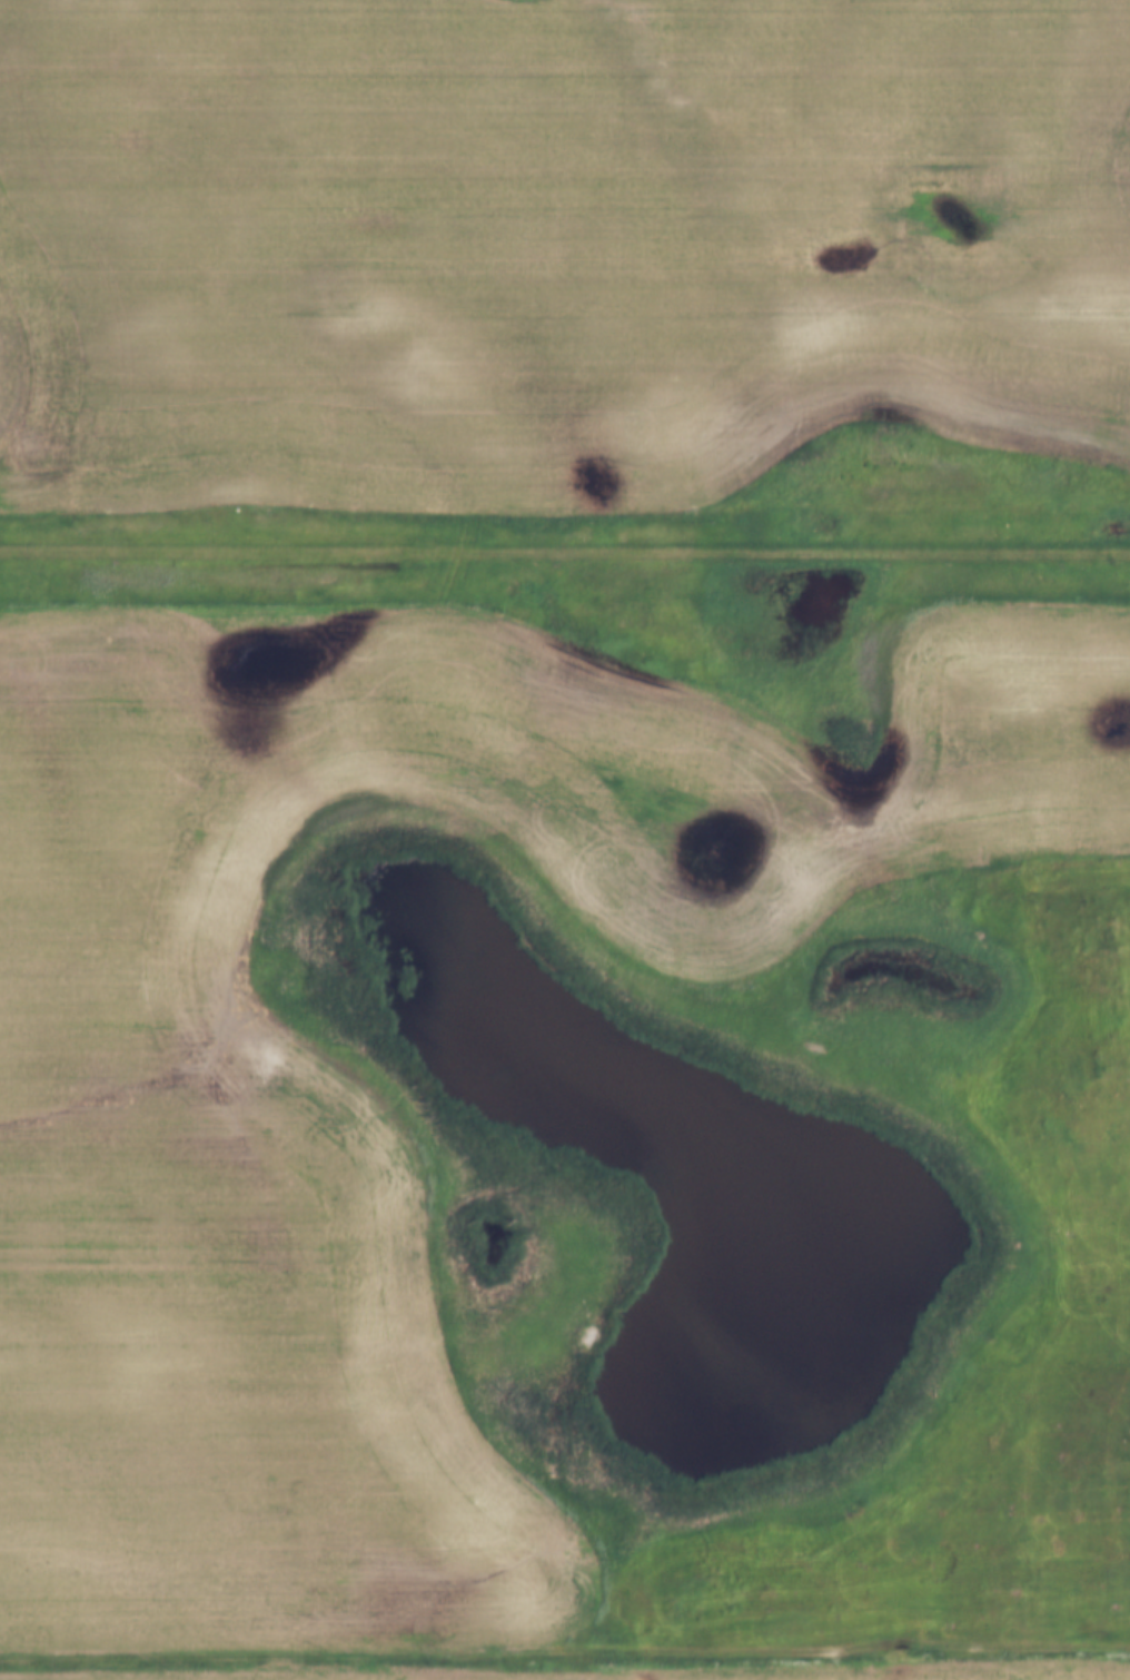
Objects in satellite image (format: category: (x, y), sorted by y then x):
road: (960, 1647)

